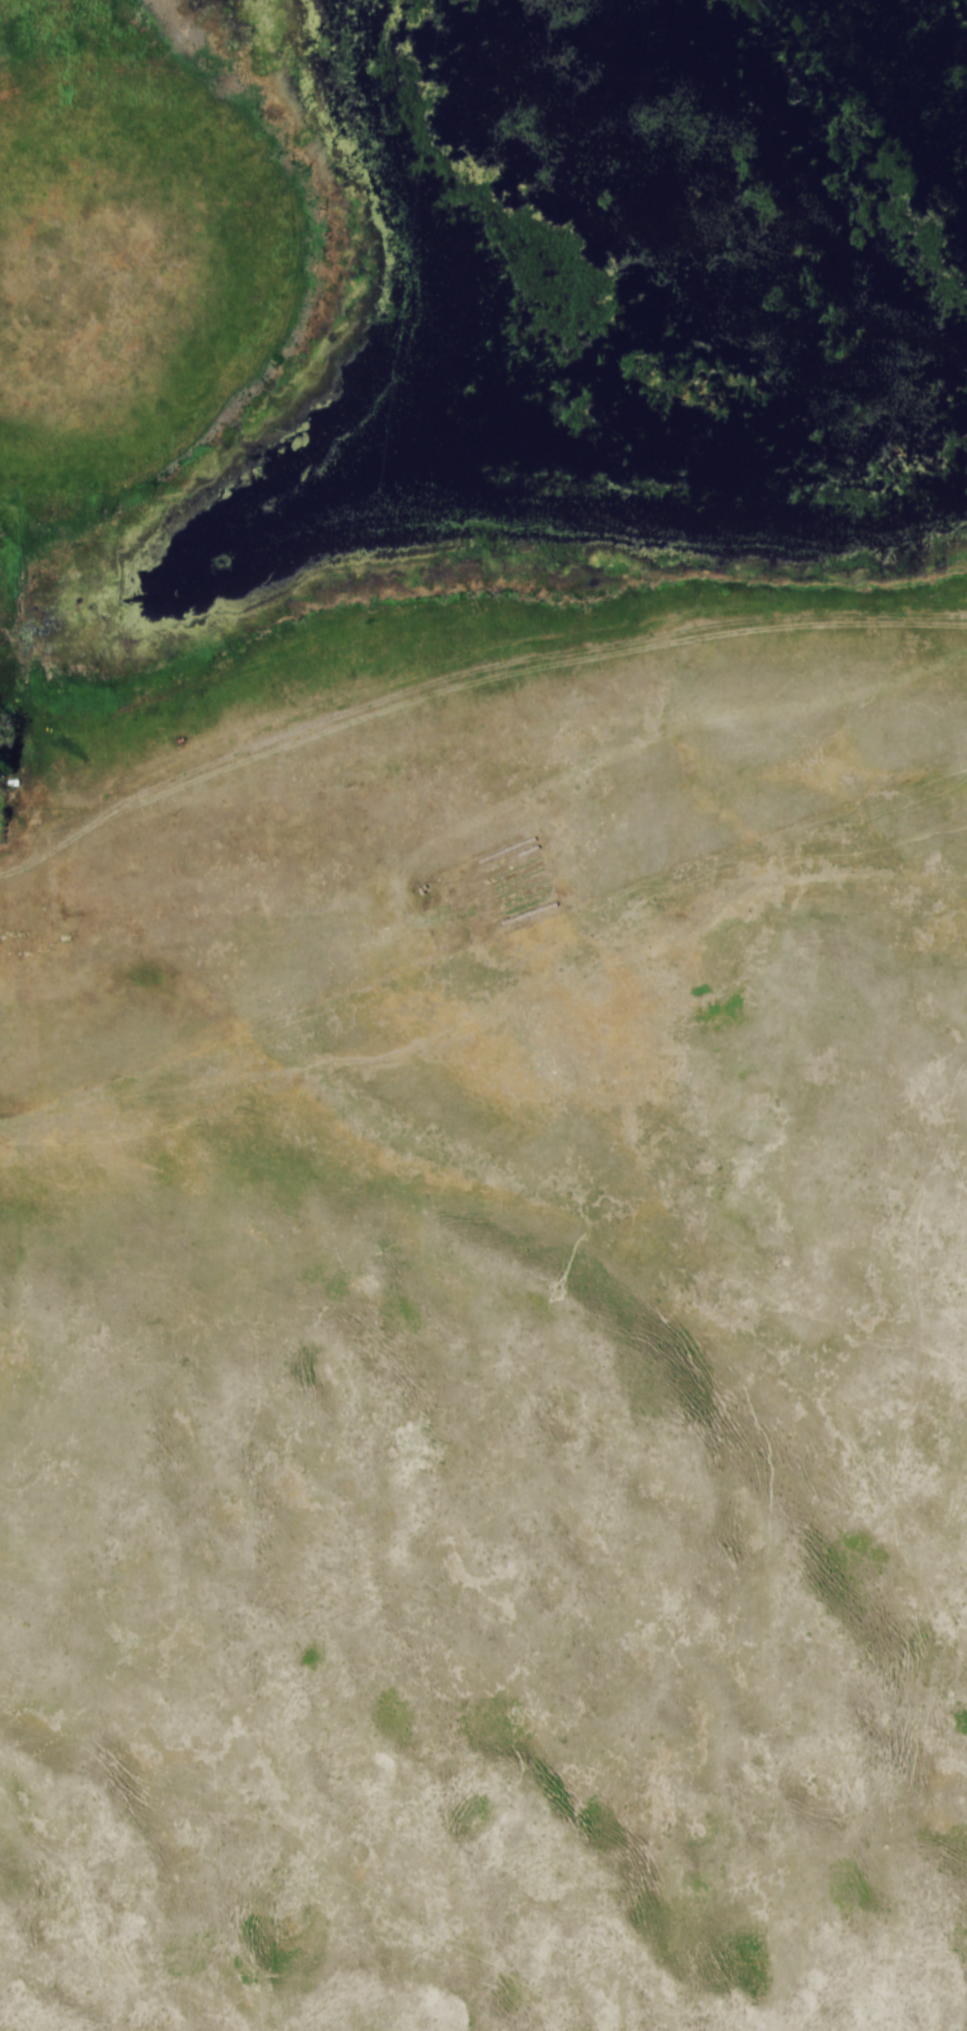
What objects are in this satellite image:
road: (463, 682)

